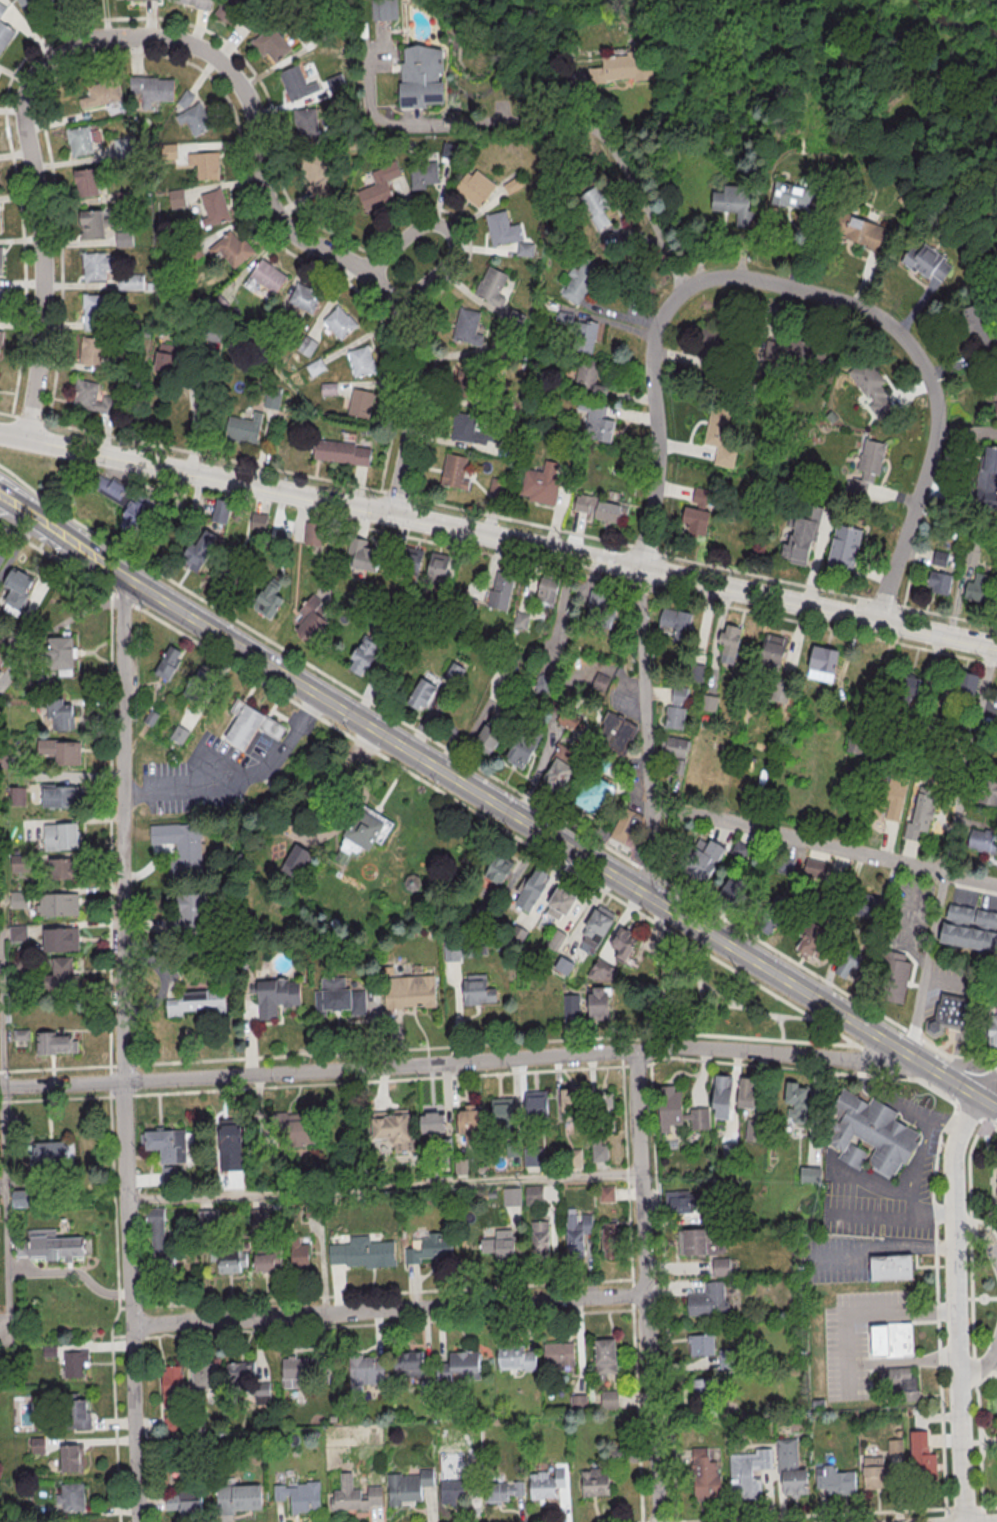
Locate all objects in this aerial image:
building: (197, 3)
building: (30, 4)
building: (2, 8)
building: (385, 9)
building: (229, 11)
river: (951, 21)
building: (4, 36)
building: (271, 43)
road: (208, 51)
building: (623, 67)
building: (421, 75)
building: (297, 82)
building: (336, 83)
building: (152, 89)
building: (101, 92)
building: (185, 99)
building: (194, 118)
building: (306, 122)
road: (590, 129)
building: (79, 140)
building: (124, 147)
building: (167, 150)
building: (98, 152)
building: (449, 152)
building: (205, 164)
building: (423, 174)
building: (318, 177)
building: (86, 181)
building: (379, 186)
building: (474, 187)
building: (792, 195)
building: (176, 197)
building: (734, 202)
building: (594, 205)
building: (215, 206)
building: (92, 223)
building: (503, 228)
building: (862, 231)
road: (449, 234)
building: (123, 238)
building: (232, 247)
building: (525, 248)
building: (1, 260)
building: (927, 261)
building: (97, 265)
building: (267, 276)
building: (579, 280)
building: (130, 281)
building: (491, 285)
road: (807, 285)
building: (305, 297)
building: (2, 301)
building: (94, 311)
building: (514, 318)
building: (339, 322)
building: (468, 325)
building: (976, 326)
building: (579, 331)
building: (0, 340)
building: (306, 345)
building: (91, 350)
building: (789, 350)
building: (166, 357)
building: (361, 361)
building: (315, 366)
building: (587, 377)
building: (871, 388)
building: (89, 396)
building: (272, 397)
building: (362, 402)
building: (596, 420)
building: (243, 428)
building: (471, 428)
building: (720, 436)
building: (341, 451)
building: (990, 459)
building: (866, 467)
building: (454, 471)
building: (542, 482)
building: (109, 488)
building: (602, 508)
building: (221, 510)
building: (699, 510)
road: (499, 515)
building: (133, 517)
building: (258, 522)
building: (314, 533)
road: (498, 536)
building: (282, 537)
building: (800, 540)
building: (844, 548)
building: (199, 549)
building: (973, 553)
building: (363, 555)
building: (1, 558)
building: (942, 559)
building: (411, 560)
building: (437, 568)
building: (940, 584)
building: (18, 587)
building: (980, 588)
building: (501, 589)
building: (547, 589)
road: (661, 593)
building: (268, 599)
building: (600, 609)
building: (311, 617)
building: (520, 620)
building: (678, 624)
building: (730, 644)
building: (774, 653)
building: (60, 654)
building: (363, 655)
building: (168, 661)
building: (823, 664)
building: (700, 674)
building: (600, 682)
building: (966, 686)
building: (781, 690)
building: (422, 693)
building: (908, 693)
building: (710, 703)
building: (996, 705)
building: (678, 709)
building: (60, 713)
building: (921, 717)
building: (706, 718)
building: (568, 720)
building: (253, 725)
road: (645, 731)
building: (615, 732)
building: (179, 733)
building: (491, 733)
road: (393, 738)
road: (369, 742)
building: (856, 745)
building: (523, 746)
building: (675, 747)
building: (61, 750)
building: (915, 754)
building: (935, 761)
building: (680, 767)
building: (559, 772)
building: (855, 772)
parking lot: (327, 773)
parking lot: (208, 777)
road: (492, 778)
road: (241, 779)
road: (367, 780)
building: (593, 793)
building: (988, 793)
building: (18, 795)
building: (62, 795)
building: (891, 796)
road: (360, 808)
building: (922, 812)
road: (291, 817)
road: (499, 826)
building: (364, 833)
building: (61, 835)
building: (983, 841)
road: (822, 843)
building: (181, 846)
road: (950, 848)
building: (703, 859)
building: (298, 860)
building: (19, 862)
building: (784, 865)
building: (63, 866)
building: (498, 869)
building: (817, 869)
building: (413, 881)
road: (109, 884)
building: (732, 888)
building: (531, 889)
building: (18, 898)
building: (559, 903)
building: (58, 904)
building: (865, 905)
building: (188, 910)
building: (962, 914)
parking lot: (908, 915)
building: (986, 919)
road: (907, 920)
fountain: (333, 921)
road: (967, 924)
building: (597, 926)
building: (18, 933)
building: (874, 933)
building: (949, 935)
building: (964, 938)
building: (61, 939)
building: (556, 939)
building: (812, 940)
building: (978, 940)
building: (990, 943)
building: (623, 944)
building: (453, 950)
building: (564, 965)
building: (855, 966)
building: (603, 970)
building: (61, 972)
building: (893, 977)
road: (948, 981)
parking lot: (951, 981)
building: (988, 981)
road: (665, 982)
road: (702, 983)
building: (478, 989)
building: (276, 995)
building: (338, 997)
park: (720, 999)
building: (196, 1002)
building: (599, 1002)
building: (571, 1004)
road: (720, 1007)
road: (739, 1007)
road: (839, 1009)
building: (952, 1016)
road: (785, 1019)
building: (993, 1032)
building: (21, 1034)
building: (55, 1043)
road: (495, 1045)
road: (123, 1047)
parking lot: (964, 1048)
road: (912, 1054)
road: (454, 1061)
road: (970, 1064)
road: (986, 1083)
road: (966, 1086)
building: (746, 1091)
road: (150, 1094)
building: (722, 1096)
building: (604, 1102)
building: (796, 1102)
building: (536, 1103)
building: (571, 1103)
road: (901, 1104)
building: (502, 1110)
building: (679, 1110)
road: (947, 1120)
building: (470, 1121)
building: (432, 1122)
road: (995, 1124)
building: (295, 1126)
building: (393, 1127)
building: (752, 1130)
building: (872, 1134)
building: (230, 1144)
building: (167, 1145)
building: (53, 1151)
building: (599, 1151)
building: (575, 1158)
building: (533, 1159)
road: (918, 1168)
parking lot: (920, 1170)
building: (170, 1174)
building: (810, 1174)
road: (995, 1182)
road: (383, 1184)
building: (606, 1193)
building: (533, 1194)
building: (511, 1196)
building: (21, 1198)
building: (679, 1201)
road: (989, 1210)
road: (869, 1213)
road: (931, 1216)
building: (205, 1217)
road: (985, 1223)
road: (956, 1229)
building: (576, 1231)
road: (981, 1235)
building: (540, 1237)
building: (610, 1240)
building: (159, 1241)
building: (699, 1242)
building: (50, 1245)
building: (500, 1245)
building: (428, 1248)
building: (361, 1253)
road: (884, 1253)
building: (300, 1255)
building: (229, 1260)
parking lot: (837, 1261)
building: (264, 1262)
building: (721, 1266)
building: (891, 1268)
road: (645, 1286)
road: (972, 1298)
building: (707, 1299)
road: (389, 1309)
road: (900, 1311)
road: (940, 1311)
road: (844, 1338)
parking lot: (860, 1339)
building: (893, 1340)
building: (701, 1345)
building: (558, 1354)
building: (605, 1356)
building: (515, 1357)
road: (994, 1358)
road: (903, 1360)
building: (74, 1363)
building: (409, 1364)
building: (459, 1365)
road: (983, 1365)
parking lot: (994, 1367)
building: (366, 1371)
building: (295, 1372)
building: (238, 1373)
building: (203, 1376)
building: (899, 1381)
building: (702, 1384)
building: (171, 1385)
building: (262, 1392)
building: (609, 1399)
building: (577, 1401)
building: (76, 1412)
building: (37, 1445)
building: (895, 1446)
road: (961, 1446)
building: (922, 1457)
building: (72, 1458)
building: (791, 1468)
building: (874, 1472)
building: (748, 1473)
building: (705, 1475)
building: (835, 1480)
building: (595, 1482)
building: (546, 1484)
building: (408, 1486)
building: (452, 1491)
building: (504, 1491)
building: (354, 1495)
building: (299, 1496)
building: (71, 1497)
building: (238, 1498)
building: (182, 1501)
road: (989, 1507)
road: (809, 1515)

